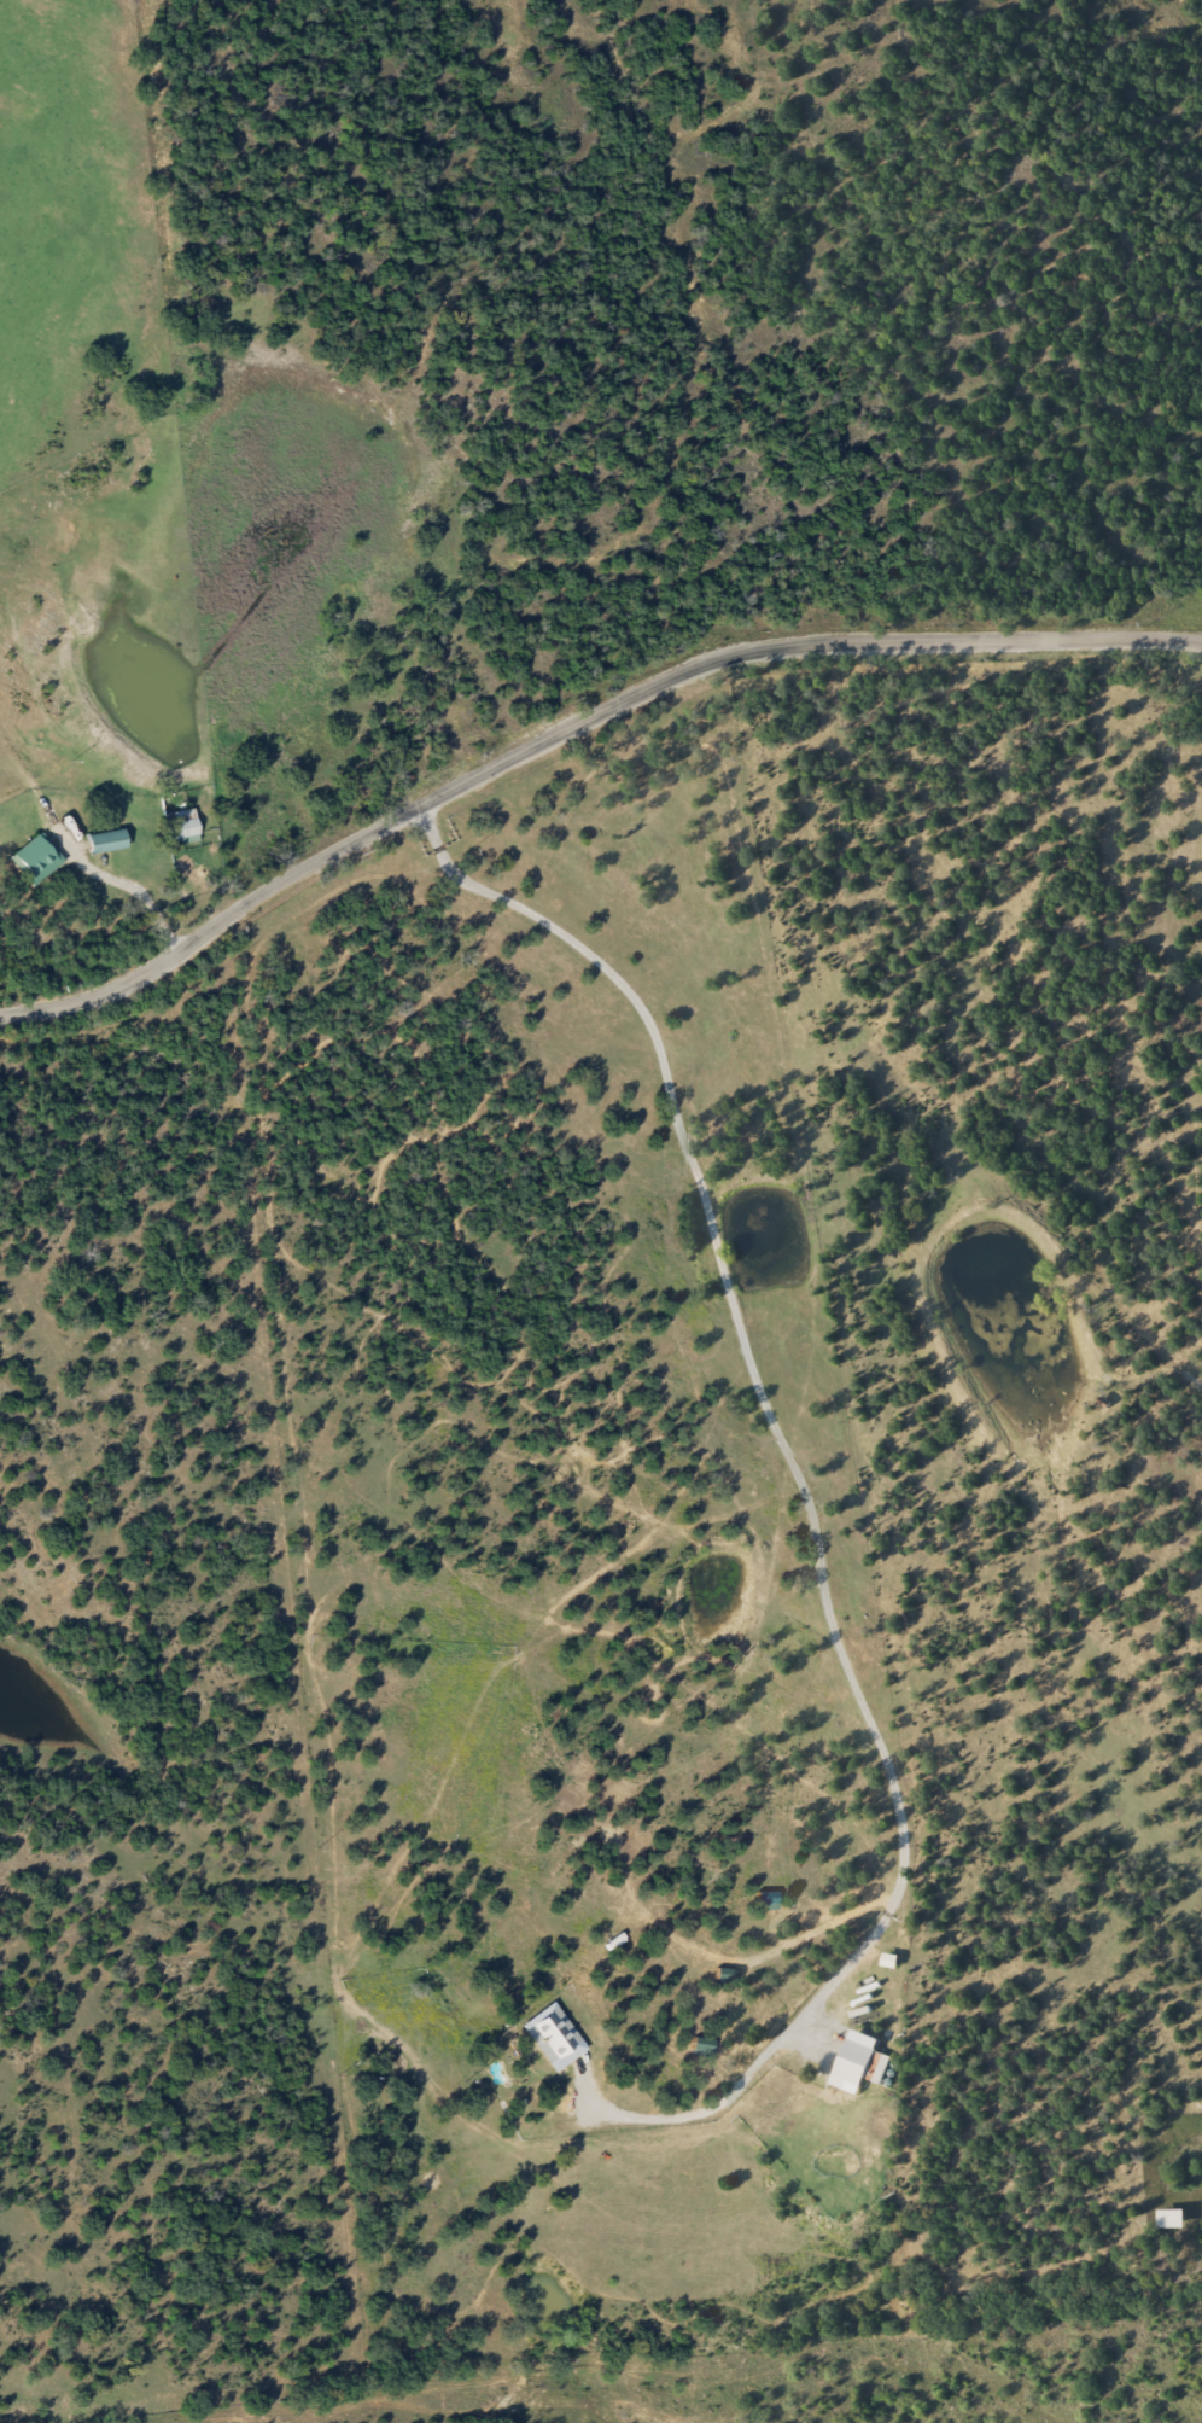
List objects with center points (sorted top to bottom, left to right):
road: (572, 723)
building: (180, 826)
building: (104, 841)
building: (34, 858)
road: (135, 901)
building: (552, 2038)
building: (852, 2061)
building: (1169, 2218)

